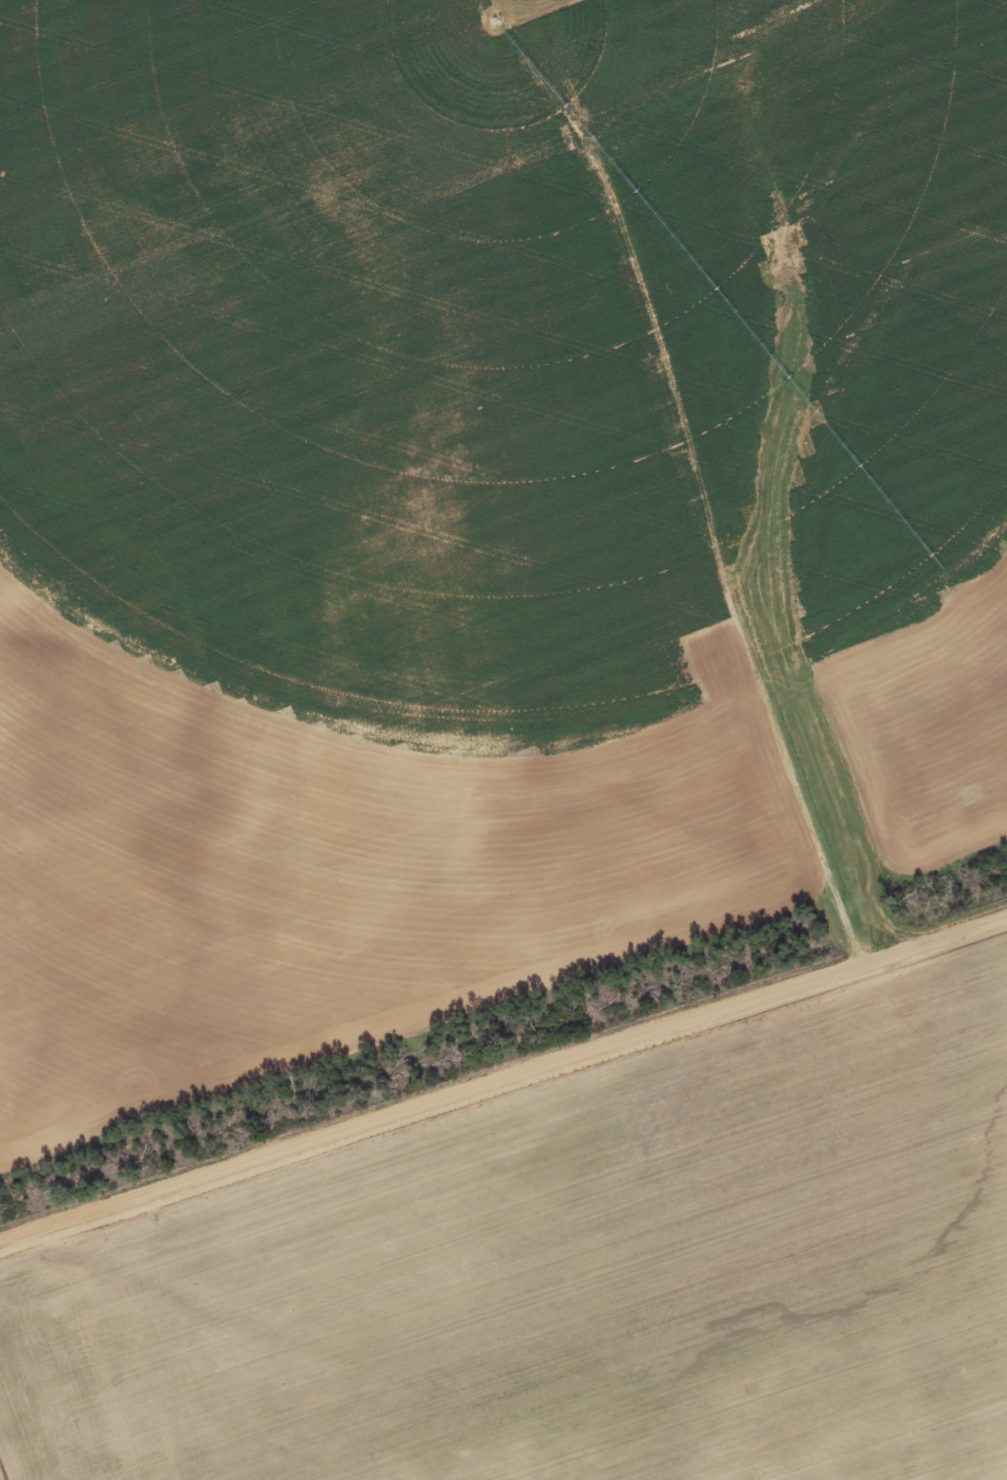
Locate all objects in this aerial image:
road: (647, 490)
road: (503, 1071)

